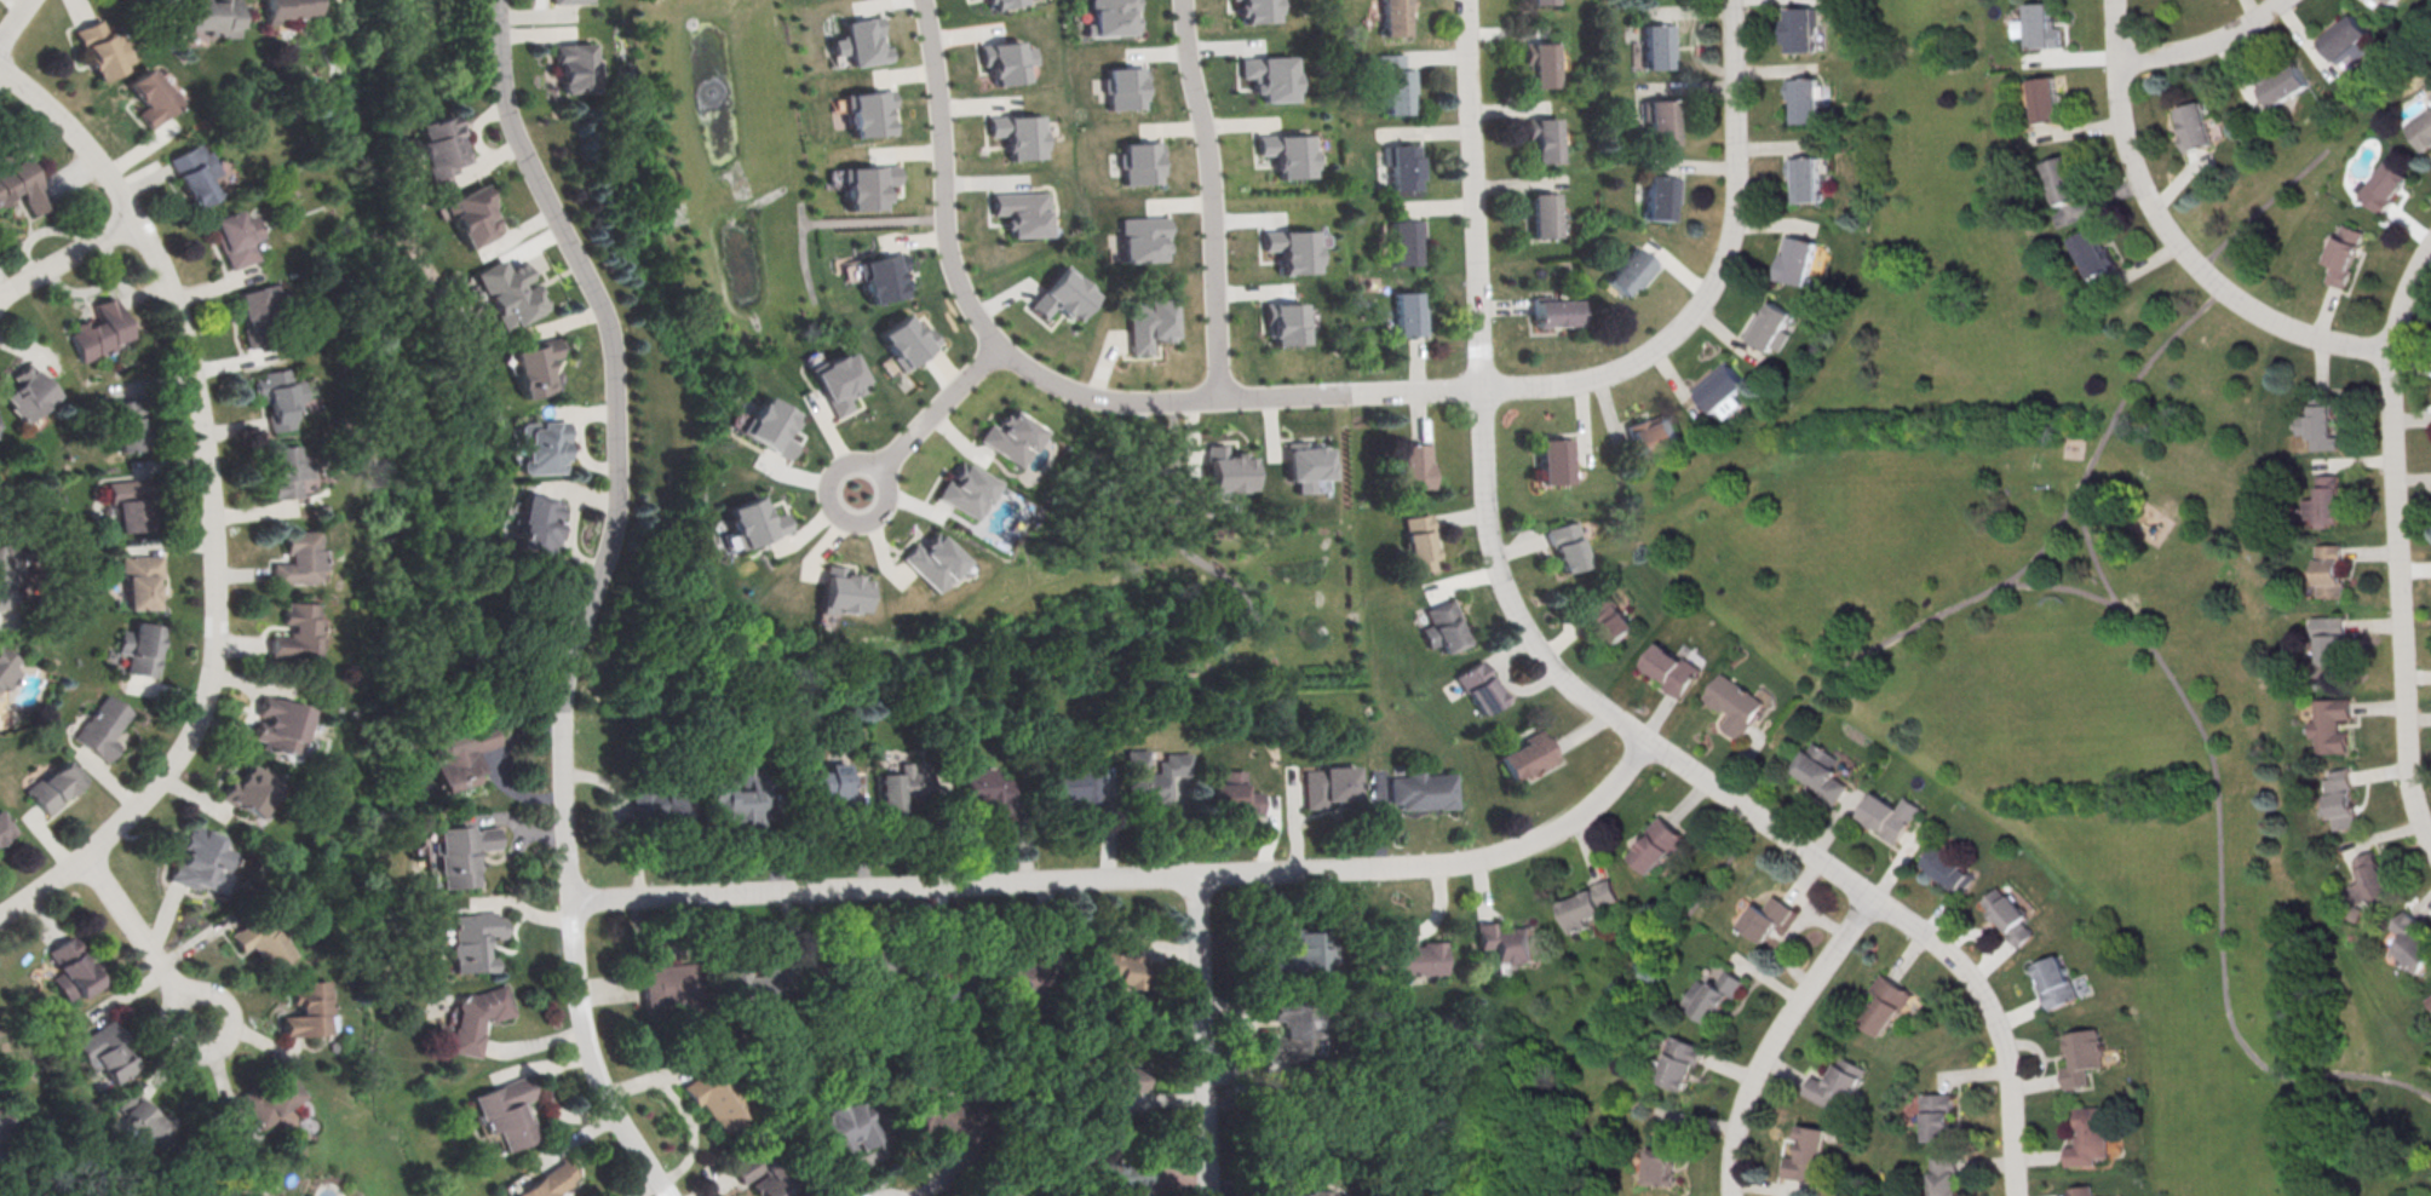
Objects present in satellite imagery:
building: (570, 1)
building: (2395, 1)
building: (1001, 2)
building: (1539, 2)
building: (289, 8)
building: (1255, 10)
building: (213, 16)
building: (1111, 17)
building: (1397, 17)
road: (13, 21)
building: (2040, 25)
building: (1798, 28)
building: (2344, 36)
building: (861, 40)
building: (102, 42)
building: (1661, 45)
road: (2205, 45)
building: (1005, 59)
building: (1540, 63)
building: (577, 65)
building: (1269, 75)
building: (1398, 81)
building: (2285, 86)
building: (1122, 87)
building: (154, 91)
building: (2430, 93)
building: (1803, 98)
building: (2041, 99)
building: (869, 111)
building: (1660, 121)
building: (2194, 126)
building: (2421, 130)
building: (1019, 133)
building: (1544, 138)
building: (441, 145)
building: (1286, 151)
building: (1137, 162)
building: (1406, 166)
building: (196, 168)
building: (1804, 177)
building: (21, 179)
building: (2062, 180)
building: (868, 185)
building: (2386, 185)
road: (1213, 195)
building: (1660, 195)
building: (1022, 212)
building: (1544, 213)
building: (472, 215)
building: (238, 231)
building: (1143, 237)
building: (1407, 240)
road: (2173, 240)
building: (1289, 248)
building: (2092, 252)
building: (2344, 253)
road: (69, 257)
building: (1798, 260)
building: (1631, 271)
road: (1717, 272)
building: (884, 276)
building: (507, 292)
road: (966, 292)
building: (1062, 294)
building: (260, 306)
building: (1557, 312)
building: (1409, 315)
building: (1148, 321)
building: (1285, 322)
building: (1770, 327)
building: (99, 330)
building: (908, 340)
building: (534, 364)
building: (838, 380)
building: (1723, 389)
road: (1352, 391)
building: (30, 393)
building: (278, 393)
road: (937, 407)
building: (132, 421)
building: (2321, 424)
building: (770, 425)
building: (1653, 435)
building: (1010, 436)
building: (540, 447)
building: (1554, 459)
road: (833, 464)
building: (1306, 465)
building: (1416, 465)
building: (285, 468)
building: (1225, 468)
building: (965, 490)
building: (134, 500)
road: (215, 501)
building: (2326, 501)
road: (2068, 505)
building: (752, 522)
building: (538, 524)
building: (1421, 541)
road: (2397, 544)
building: (1568, 545)
road: (2091, 553)
building: (300, 554)
building: (931, 560)
building: (2329, 569)
building: (6, 576)
building: (140, 576)
building: (841, 590)
road: (592, 597)
park: (2069, 605)
building: (1608, 617)
building: (299, 625)
building: (1443, 627)
park: (2052, 632)
building: (2328, 637)
building: (139, 644)
building: (1671, 669)
building: (6, 671)
building: (1481, 685)
road: (1579, 688)
building: (1732, 703)
building: (281, 719)
building: (2329, 725)
building: (99, 726)
building: (458, 754)
building: (1528, 754)
building: (1820, 771)
building: (1154, 775)
building: (1074, 781)
building: (829, 783)
building: (1331, 783)
building: (252, 784)
building: (902, 784)
building: (978, 784)
building: (54, 786)
building: (1423, 789)
building: (1235, 793)
building: (742, 795)
building: (2339, 798)
building: (668, 805)
building: (1890, 816)
building: (5, 827)
building: (1663, 846)
building: (461, 852)
building: (202, 855)
road: (2219, 855)
building: (1947, 867)
road: (1132, 876)
building: (2369, 880)
building: (1590, 904)
building: (2008, 915)
building: (1768, 916)
building: (263, 937)
building: (473, 938)
road: (146, 941)
building: (1507, 941)
building: (2409, 942)
building: (1420, 954)
building: (1122, 956)
building: (1304, 958)
building: (862, 965)
building: (74, 967)
building: (1023, 973)
building: (757, 978)
building: (674, 982)
building: (2056, 982)
building: (947, 984)
building: (1713, 994)
building: (1890, 1000)
building: (2427, 1000)
building: (309, 1005)
building: (472, 1018)
building: (1293, 1029)
road: (1206, 1035)
road: (1777, 1037)
building: (105, 1048)
building: (2082, 1056)
building: (1678, 1060)
building: (1121, 1063)
building: (1838, 1083)
building: (268, 1094)
building: (714, 1098)
building: (506, 1111)
building: (1941, 1115)
building: (6, 1116)
building: (943, 1117)
building: (145, 1119)
building: (846, 1119)
building: (2090, 1135)
building: (1810, 1155)
building: (1661, 1158)
building: (1122, 1160)
building: (747, 1168)
building: (1947, 1177)
building: (545, 1181)
building: (993, 1185)
building: (1306, 1190)
building: (2081, 1190)

